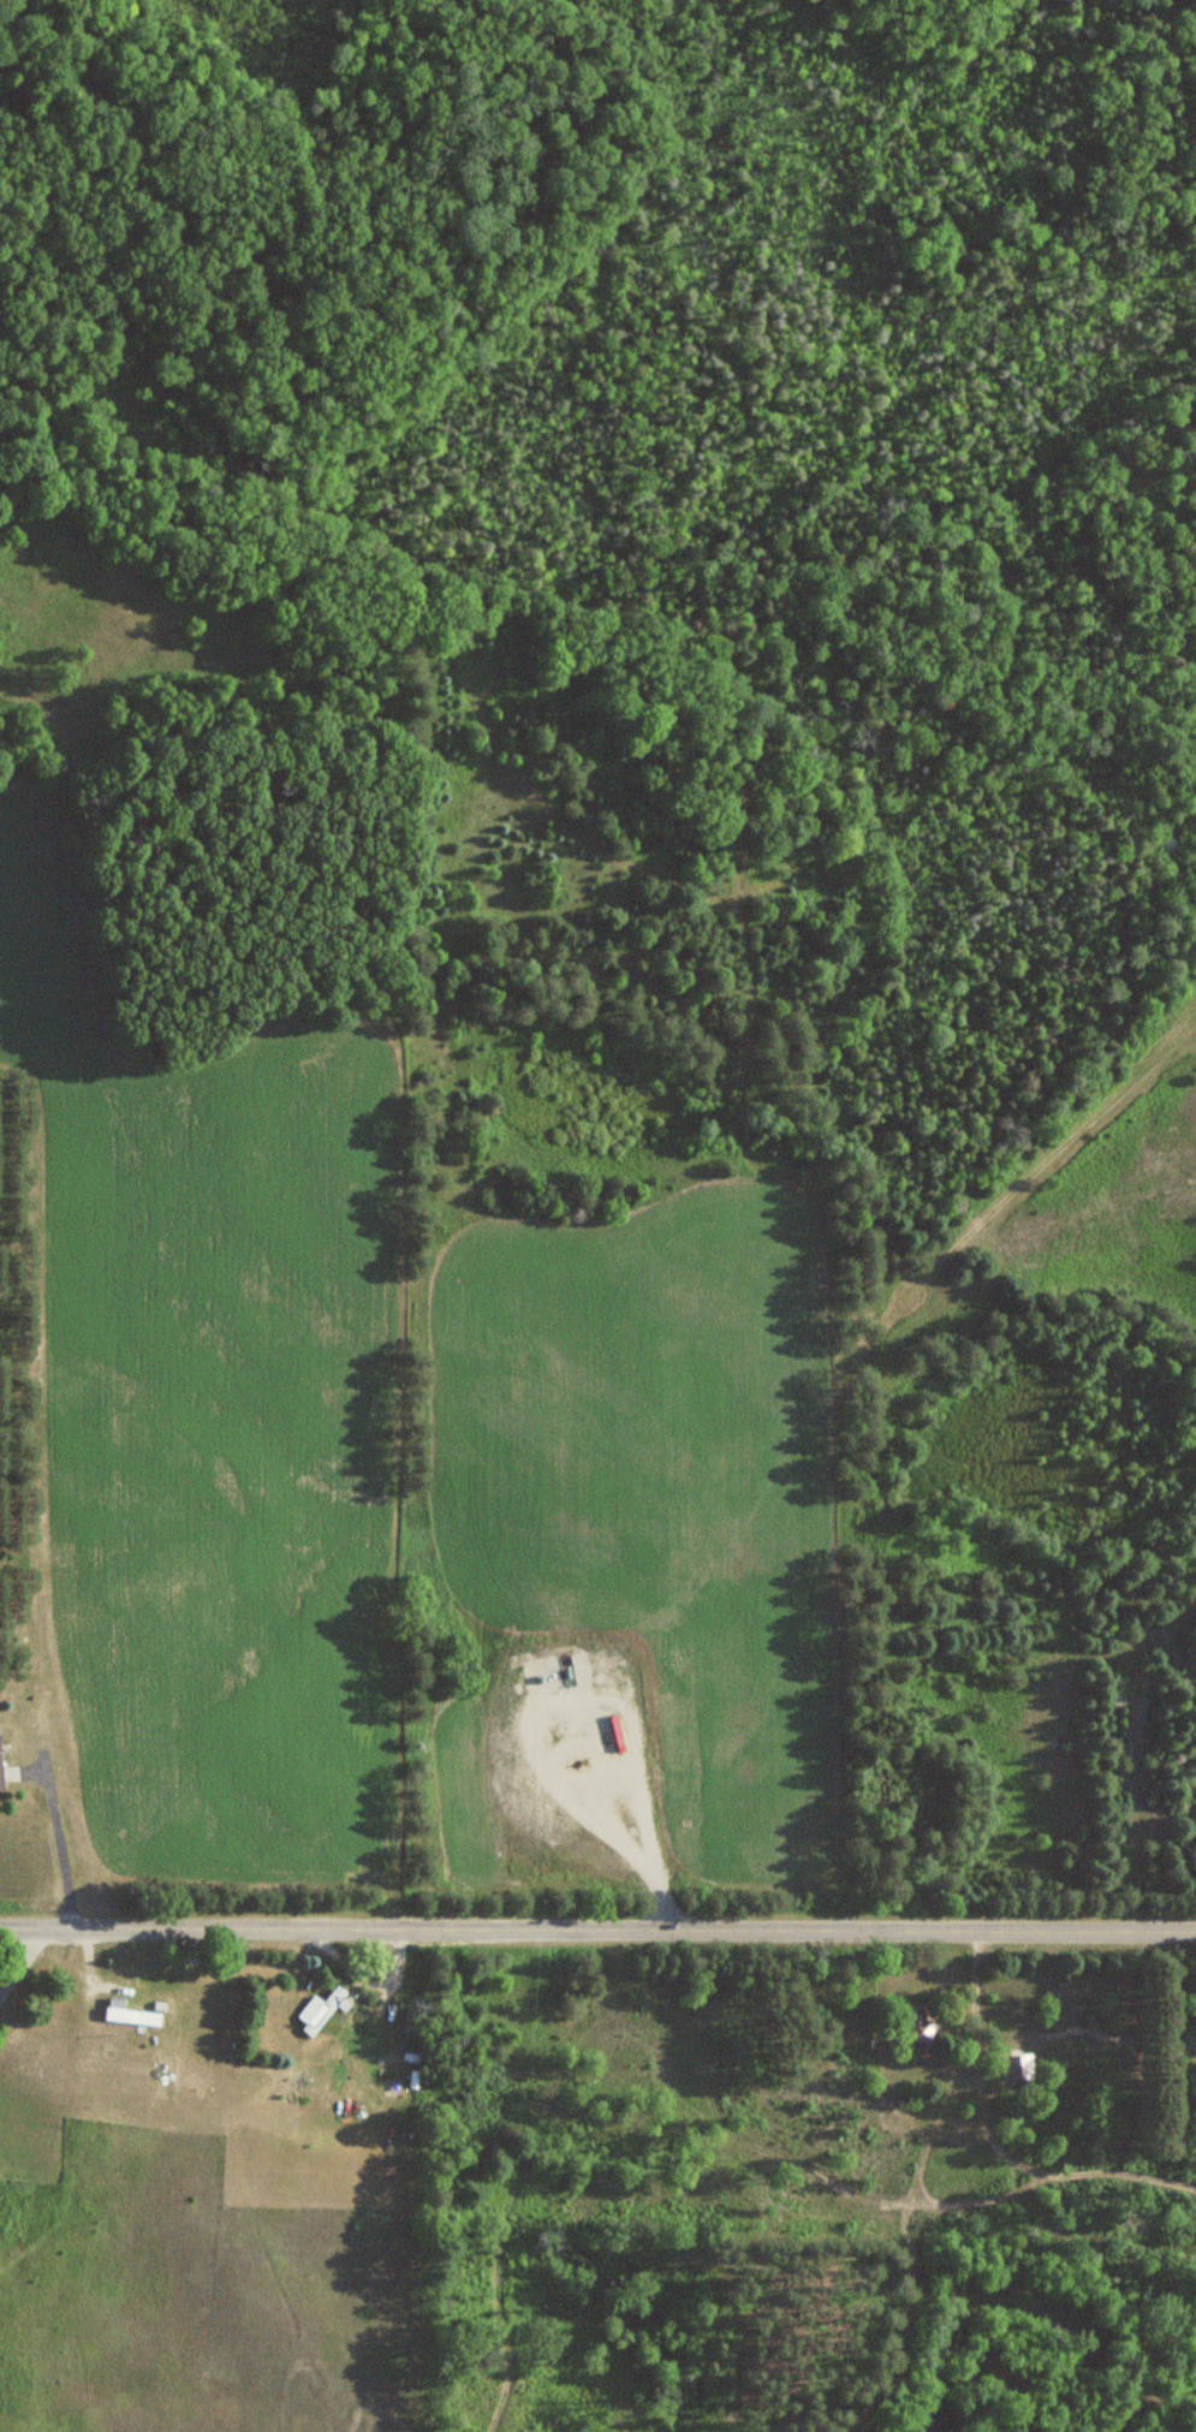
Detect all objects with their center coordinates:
building: (2, 1761)
building: (489, 1765)
road: (597, 1925)
building: (326, 2005)
building: (131, 2012)
building: (923, 2030)

